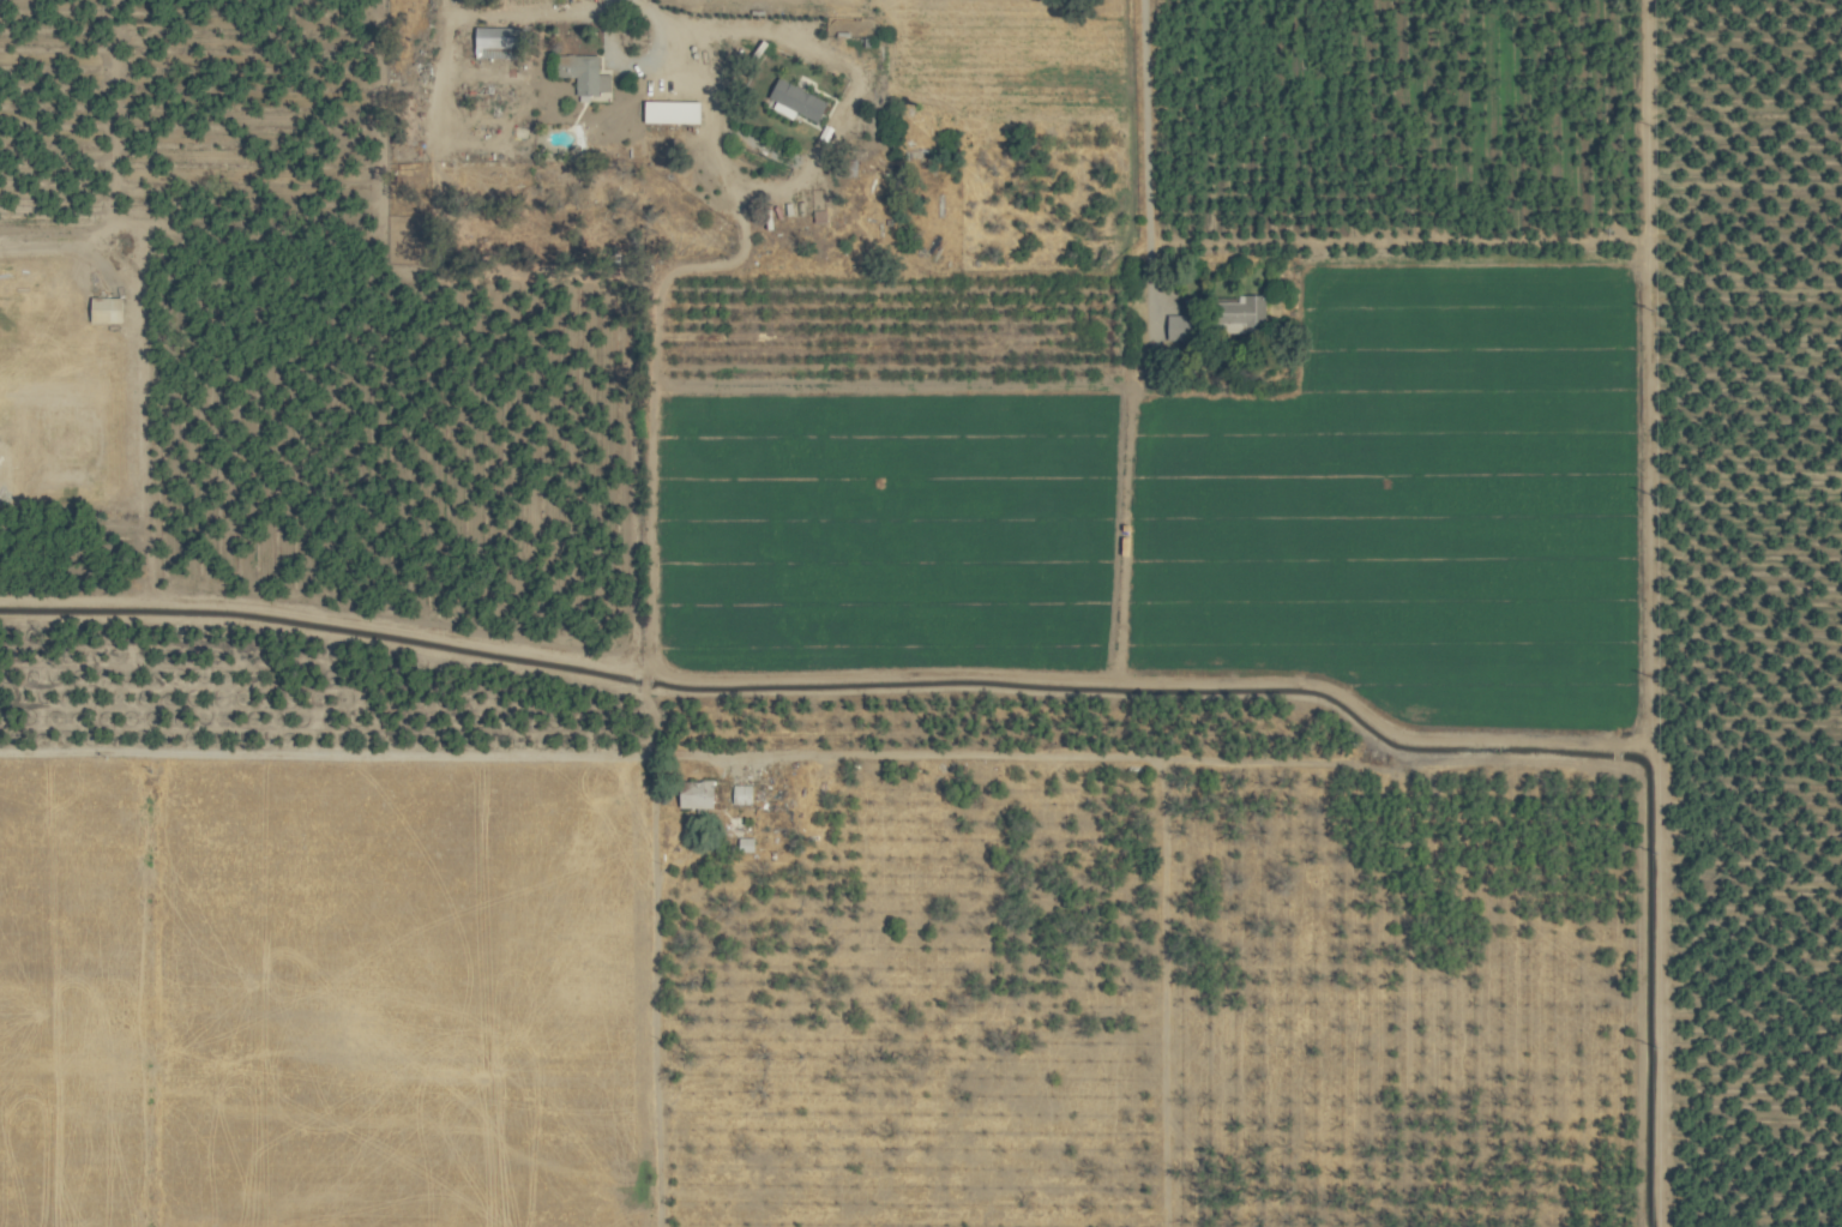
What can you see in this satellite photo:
road: (537, 16)
building: (500, 37)
building: (584, 72)
building: (795, 101)
building: (673, 112)
road: (1148, 160)
building: (107, 309)
building: (1247, 314)
building: (1180, 327)
road: (1645, 375)
crop: (921, 613)
road: (1614, 744)
road: (556, 756)
road: (1615, 756)
building: (697, 795)
building: (742, 795)
building: (746, 844)
crop: (326, 993)

